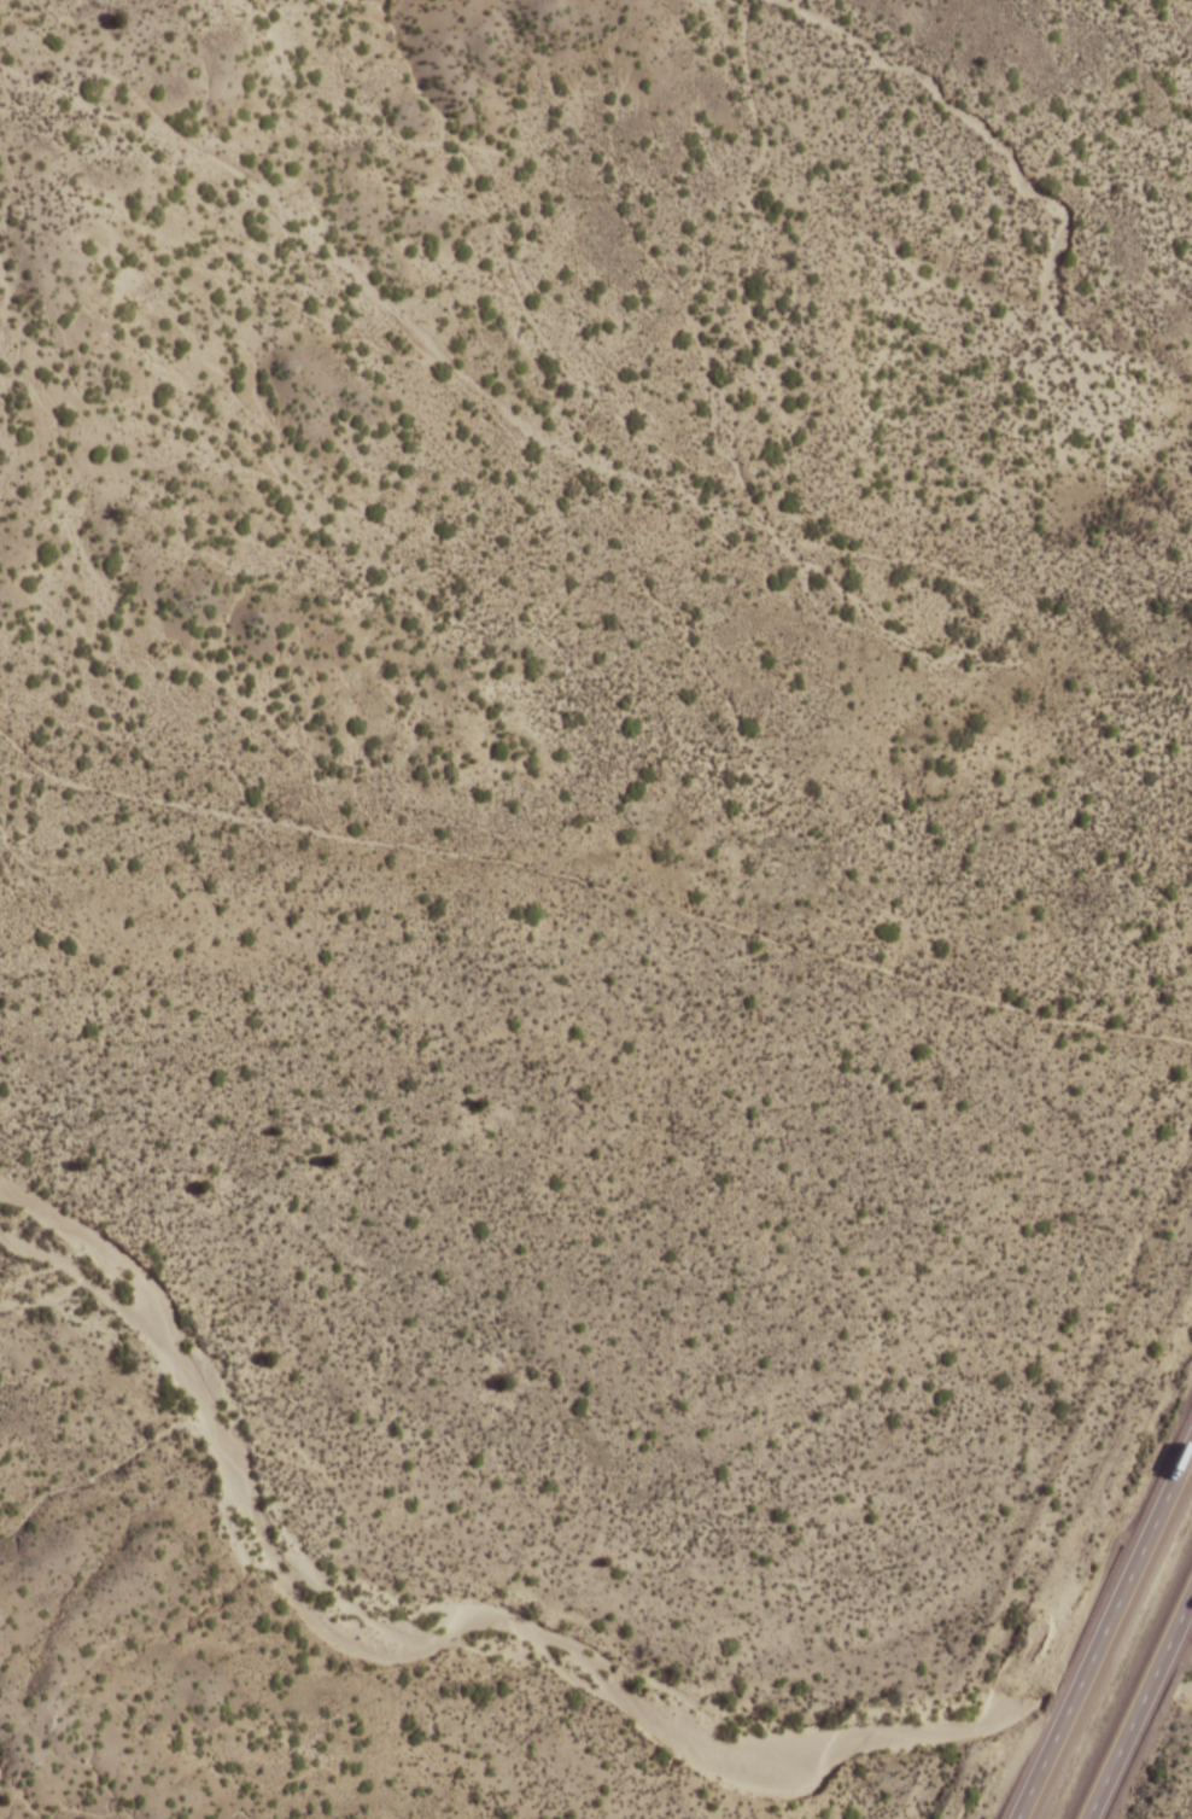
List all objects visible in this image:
road: (487, 392)
road: (1104, 1628)
river: (426, 1629)
river: (1182, 1686)
river: (1110, 1695)
road: (1139, 1706)

